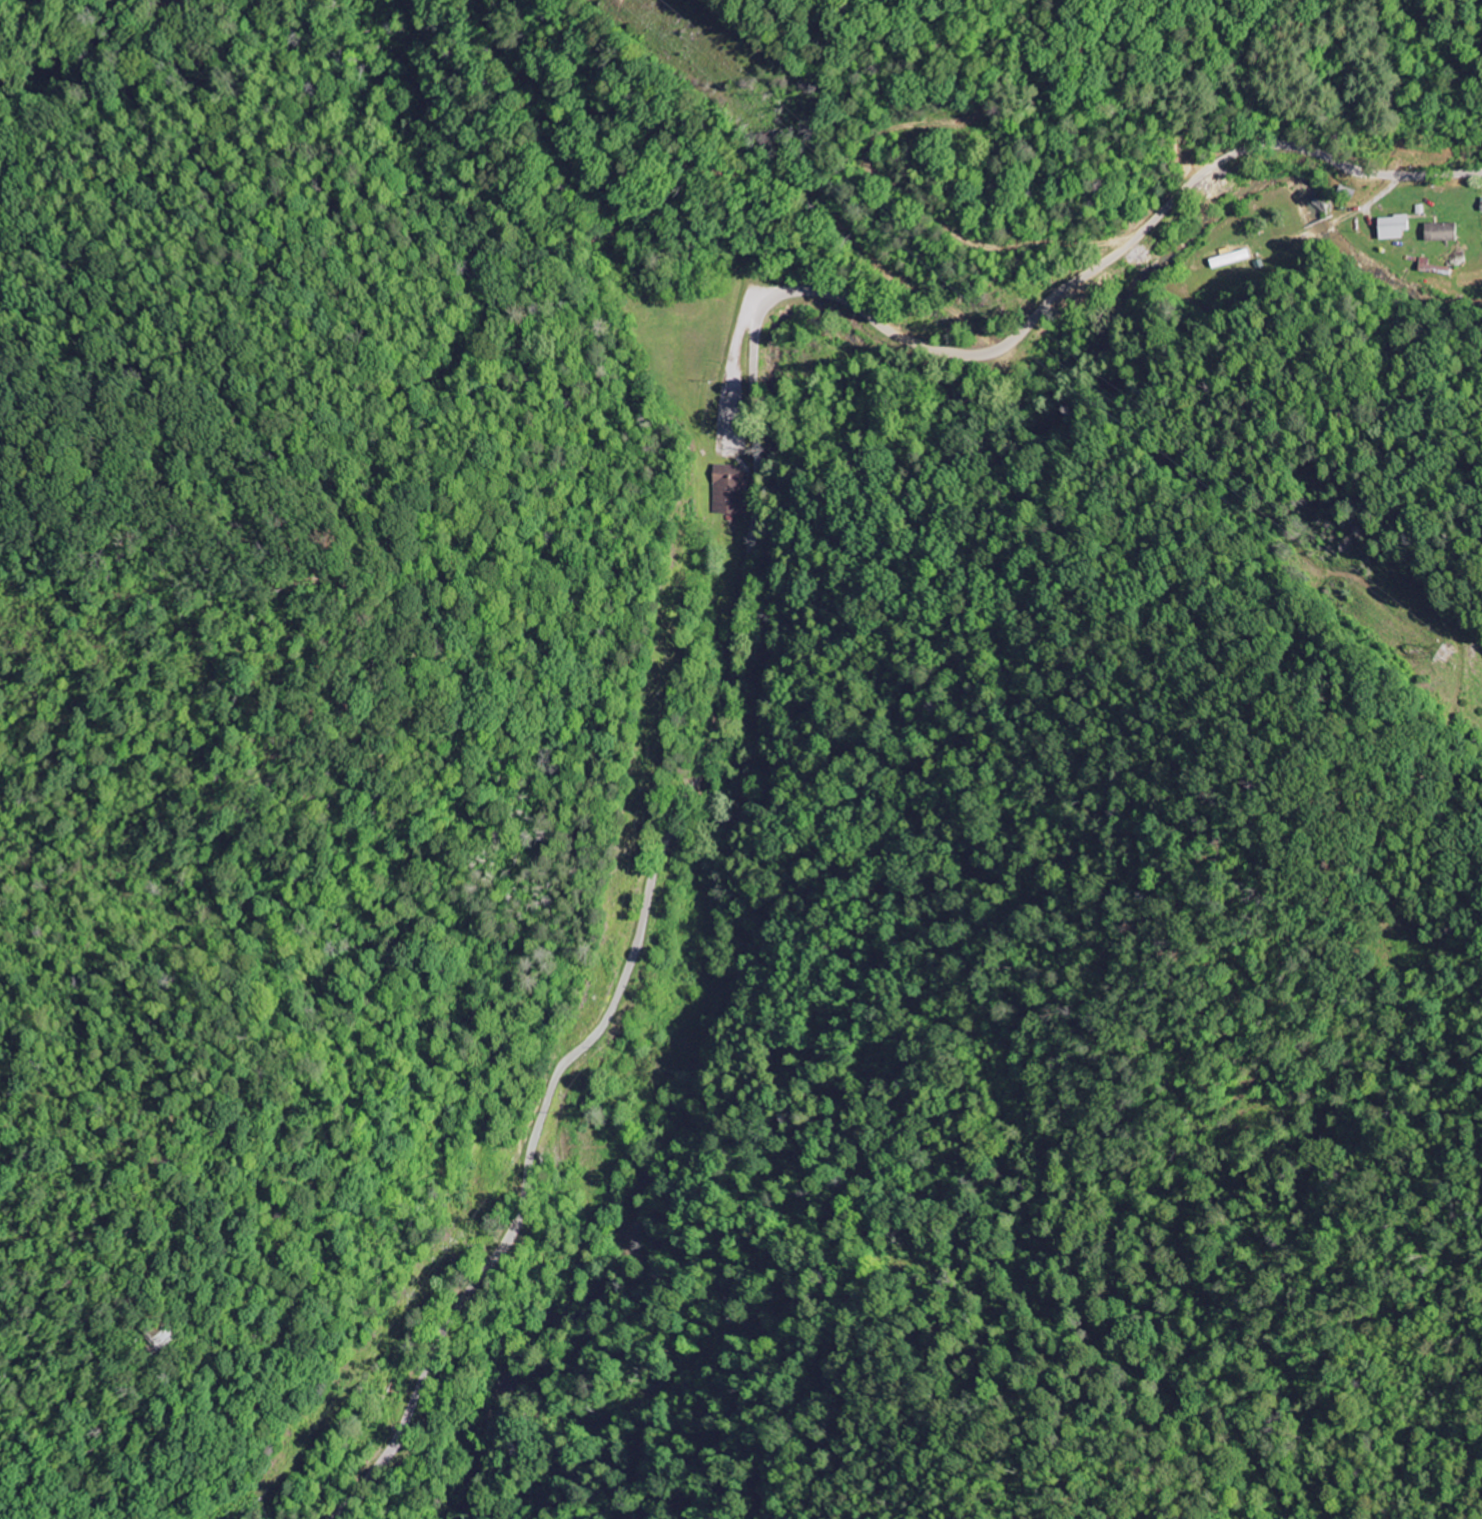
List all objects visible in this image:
building: (1394, 227)
building: (1441, 232)
building: (729, 490)
road: (749, 557)
power tower: (1445, 658)

